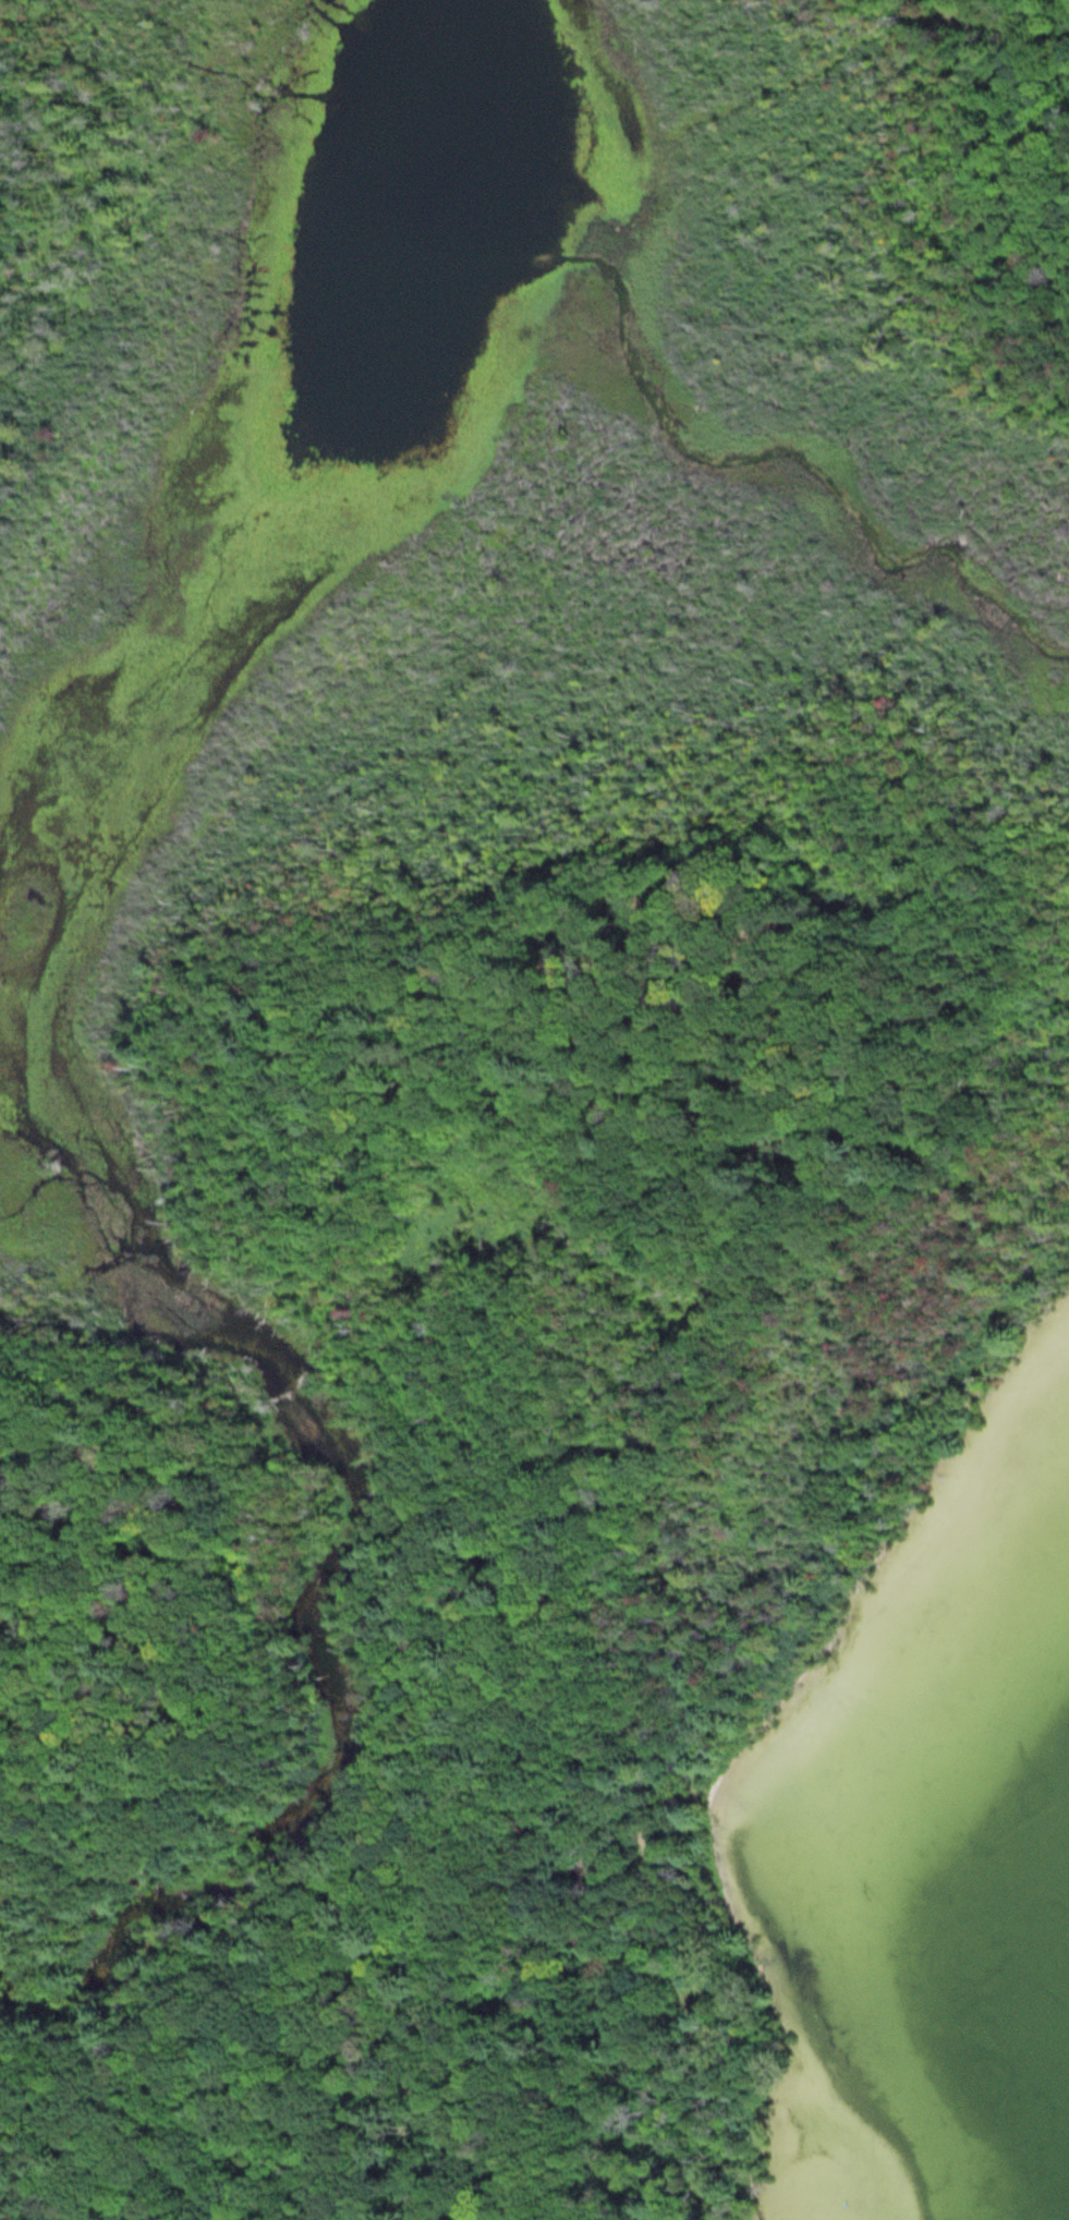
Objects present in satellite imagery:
road: (68, 1686)

